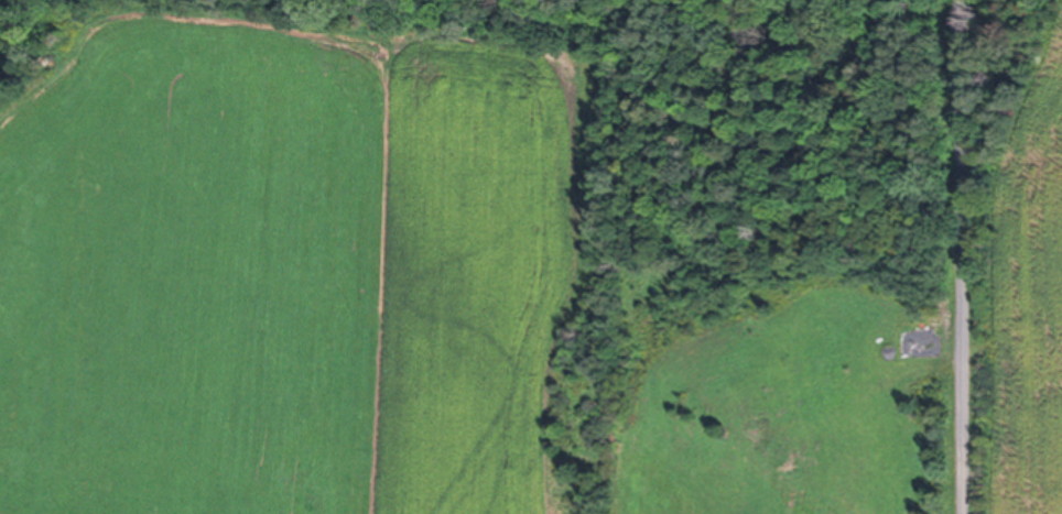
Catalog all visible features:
road: (961, 256)

